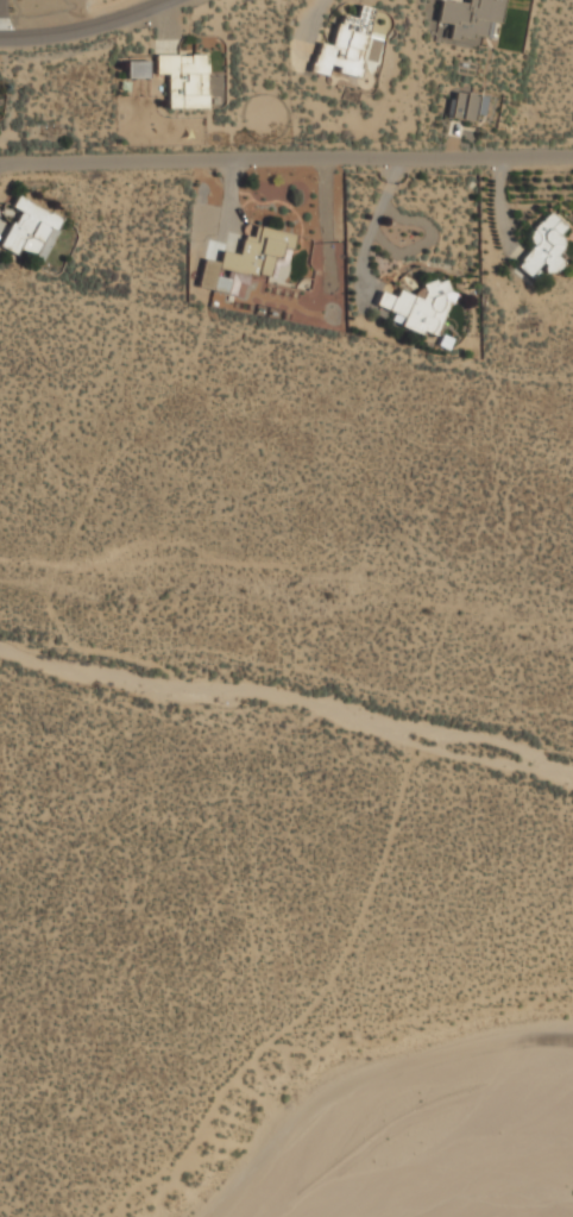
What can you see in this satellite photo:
road: (68, 18)
building: (471, 18)
building: (341, 50)
building: (137, 69)
building: (185, 79)
building: (467, 106)
road: (286, 153)
building: (31, 230)
building: (544, 246)
building: (246, 262)
building: (418, 307)
river: (458, 1159)

